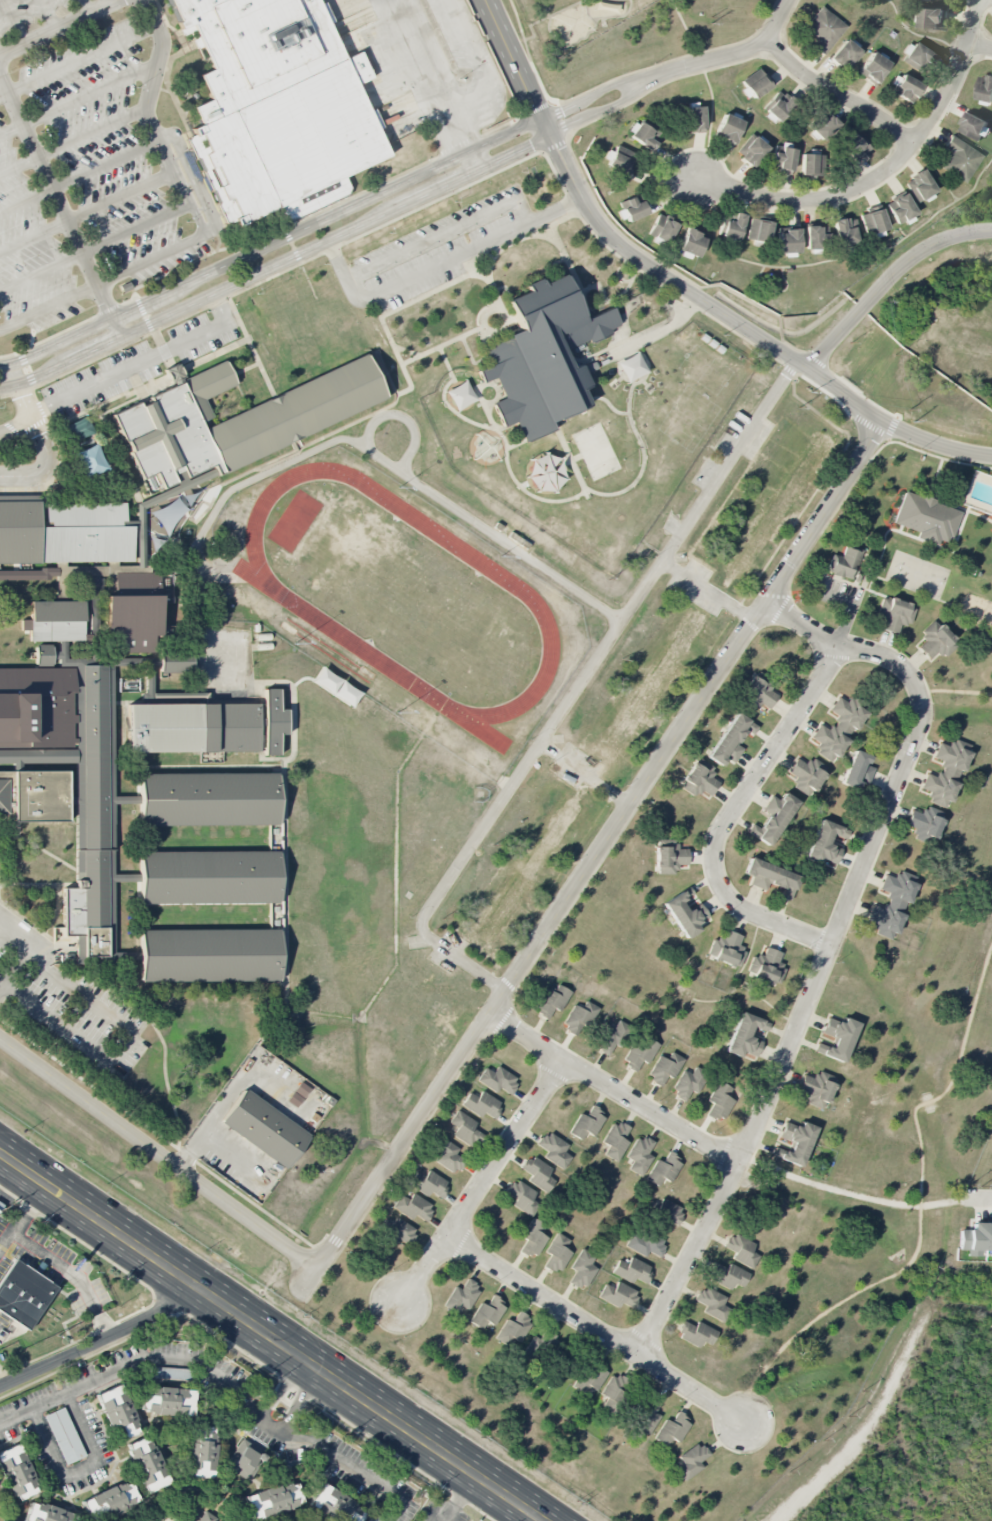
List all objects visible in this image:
building: (932, 0)
road: (82, 7)
parking lot: (31, 14)
road: (49, 14)
road: (779, 19)
building: (931, 19)
road: (13, 21)
road: (57, 27)
building: (824, 30)
road: (979, 46)
building: (844, 55)
building: (919, 56)
road: (82, 57)
road: (718, 58)
road: (474, 66)
building: (873, 67)
road: (518, 68)
road: (424, 77)
building: (756, 83)
building: (905, 88)
building: (985, 88)
road: (602, 90)
road: (89, 93)
road: (4, 94)
road: (836, 94)
building: (275, 102)
road: (149, 103)
road: (610, 105)
building: (695, 119)
building: (973, 126)
building: (825, 127)
building: (727, 129)
road: (11, 130)
road: (92, 132)
road: (500, 136)
building: (644, 136)
building: (856, 147)
building: (753, 150)
building: (784, 159)
building: (959, 159)
building: (622, 160)
road: (105, 164)
road: (465, 164)
road: (18, 165)
building: (808, 165)
road: (880, 173)
road: (195, 177)
parking lot: (93, 183)
building: (919, 185)
road: (120, 195)
road: (26, 200)
road: (60, 206)
building: (632, 208)
building: (901, 208)
road: (198, 219)
building: (872, 222)
road: (136, 227)
building: (732, 227)
building: (663, 229)
building: (757, 230)
road: (443, 232)
building: (844, 232)
road: (33, 235)
building: (813, 237)
building: (788, 241)
building: (691, 243)
parking lot: (440, 249)
road: (284, 260)
road: (231, 262)
road: (443, 264)
road: (41, 271)
road: (104, 280)
road: (888, 280)
road: (2, 328)
road: (746, 328)
road: (656, 331)
building: (542, 357)
parking lot: (138, 362)
road: (142, 365)
building: (631, 367)
road: (14, 374)
road: (9, 385)
building: (461, 395)
road: (24, 401)
road: (15, 426)
road: (346, 439)
park: (597, 451)
building: (89, 461)
road: (44, 464)
building: (545, 474)
building: (774, 511)
building: (926, 518)
park: (594, 536)
building: (844, 562)
park: (917, 574)
building: (857, 578)
building: (93, 580)
track: (517, 590)
road: (710, 591)
park: (401, 593)
parking lot: (838, 593)
building: (894, 614)
building: (936, 641)
building: (94, 670)
building: (336, 687)
road: (579, 688)
building: (646, 692)
building: (758, 693)
building: (35, 707)
building: (837, 729)
building: (731, 740)
building: (857, 771)
building: (946, 772)
building: (808, 774)
building: (699, 779)
road: (730, 809)
building: (773, 818)
building: (925, 823)
building: (826, 843)
road: (602, 847)
building: (670, 857)
building: (525, 872)
building: (771, 877)
building: (892, 904)
building: (685, 913)
road: (30, 942)
road: (830, 944)
building: (727, 949)
building: (767, 966)
road: (0, 982)
parking lot: (65, 1001)
building: (552, 1001)
building: (580, 1018)
building: (746, 1036)
building: (610, 1037)
building: (837, 1039)
road: (125, 1047)
building: (640, 1053)
building: (665, 1068)
building: (497, 1080)
building: (689, 1082)
road: (615, 1088)
building: (817, 1089)
building: (297, 1094)
building: (720, 1101)
building: (482, 1104)
building: (587, 1124)
building: (265, 1129)
building: (465, 1129)
building: (615, 1141)
building: (795, 1142)
building: (554, 1150)
road: (159, 1155)
building: (448, 1155)
building: (639, 1155)
building: (664, 1170)
building: (538, 1174)
building: (428, 1184)
road: (478, 1187)
road: (851, 1194)
building: (522, 1198)
road: (978, 1199)
building: (412, 1206)
building: (0, 1210)
building: (666, 1210)
road: (23, 1217)
building: (397, 1231)
building: (533, 1239)
building: (977, 1239)
building: (644, 1243)
building: (741, 1250)
building: (557, 1253)
building: (582, 1269)
building: (632, 1270)
road: (74, 1275)
building: (728, 1276)
building: (23, 1294)
road: (538, 1295)
building: (618, 1295)
building: (461, 1296)
building: (711, 1302)
building: (487, 1313)
building: (513, 1329)
building: (694, 1333)
road: (270, 1336)
road: (104, 1342)
building: (539, 1346)
building: (169, 1373)
road: (220, 1377)
building: (590, 1378)
road: (0, 1386)
road: (281, 1386)
road: (305, 1389)
building: (613, 1389)
road: (690, 1390)
building: (167, 1401)
building: (118, 1412)
building: (646, 1416)
road: (288, 1419)
building: (672, 1429)
building: (64, 1435)
building: (245, 1460)
building: (691, 1461)
building: (147, 1464)
road: (80, 1469)
building: (17, 1472)
road: (457, 1497)
building: (274, 1500)
building: (110, 1501)
building: (336, 1505)
building: (47, 1513)
building: (207, 1517)

